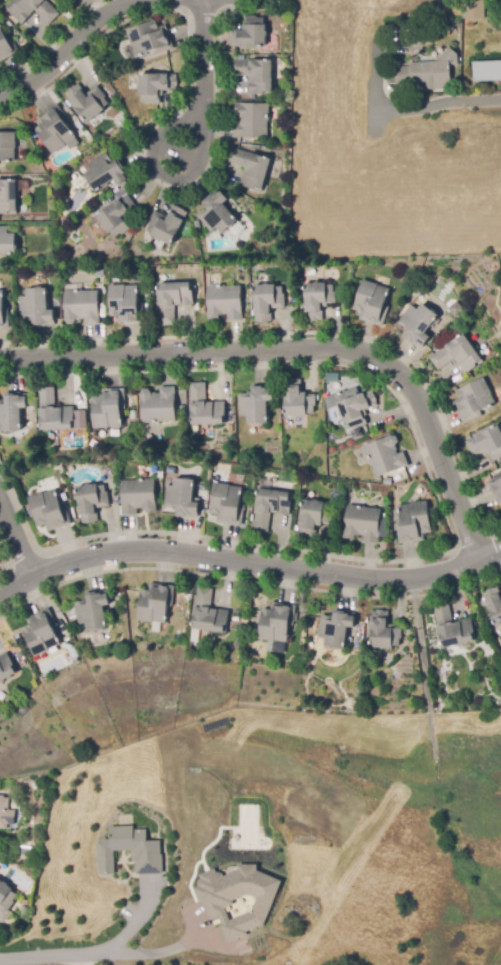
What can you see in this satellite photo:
building: (473, 9)
building: (33, 10)
building: (250, 33)
building: (150, 38)
building: (7, 46)
road: (67, 53)
road: (202, 67)
building: (487, 71)
building: (429, 72)
building: (254, 74)
building: (156, 87)
road: (481, 100)
building: (88, 101)
building: (251, 120)
building: (54, 129)
road: (193, 135)
building: (8, 146)
building: (250, 167)
building: (107, 172)
building: (8, 196)
building: (217, 213)
building: (117, 216)
building: (166, 223)
building: (7, 241)
building: (172, 300)
building: (318, 300)
building: (267, 301)
building: (224, 302)
building: (372, 302)
building: (126, 304)
building: (83, 306)
building: (37, 307)
building: (4, 313)
building: (417, 325)
road: (305, 343)
building: (458, 355)
building: (298, 400)
building: (473, 400)
building: (355, 402)
building: (256, 405)
building: (159, 406)
building: (205, 407)
building: (108, 408)
building: (12, 412)
building: (54, 412)
building: (356, 432)
building: (487, 443)
building: (386, 456)
building: (388, 481)
building: (496, 488)
building: (139, 496)
building: (182, 498)
building: (91, 501)
building: (227, 504)
building: (270, 507)
building: (49, 511)
building: (313, 517)
building: (413, 522)
building: (362, 523)
road: (15, 541)
road: (489, 554)
road: (235, 560)
building: (155, 603)
building: (494, 604)
building: (93, 611)
building: (208, 613)
building: (277, 622)
building: (453, 628)
building: (336, 629)
building: (384, 631)
building: (41, 633)
building: (6, 667)
building: (6, 813)
building: (129, 844)
building: (6, 897)
building: (236, 898)
road: (138, 920)
road: (105, 954)
road: (71, 960)

